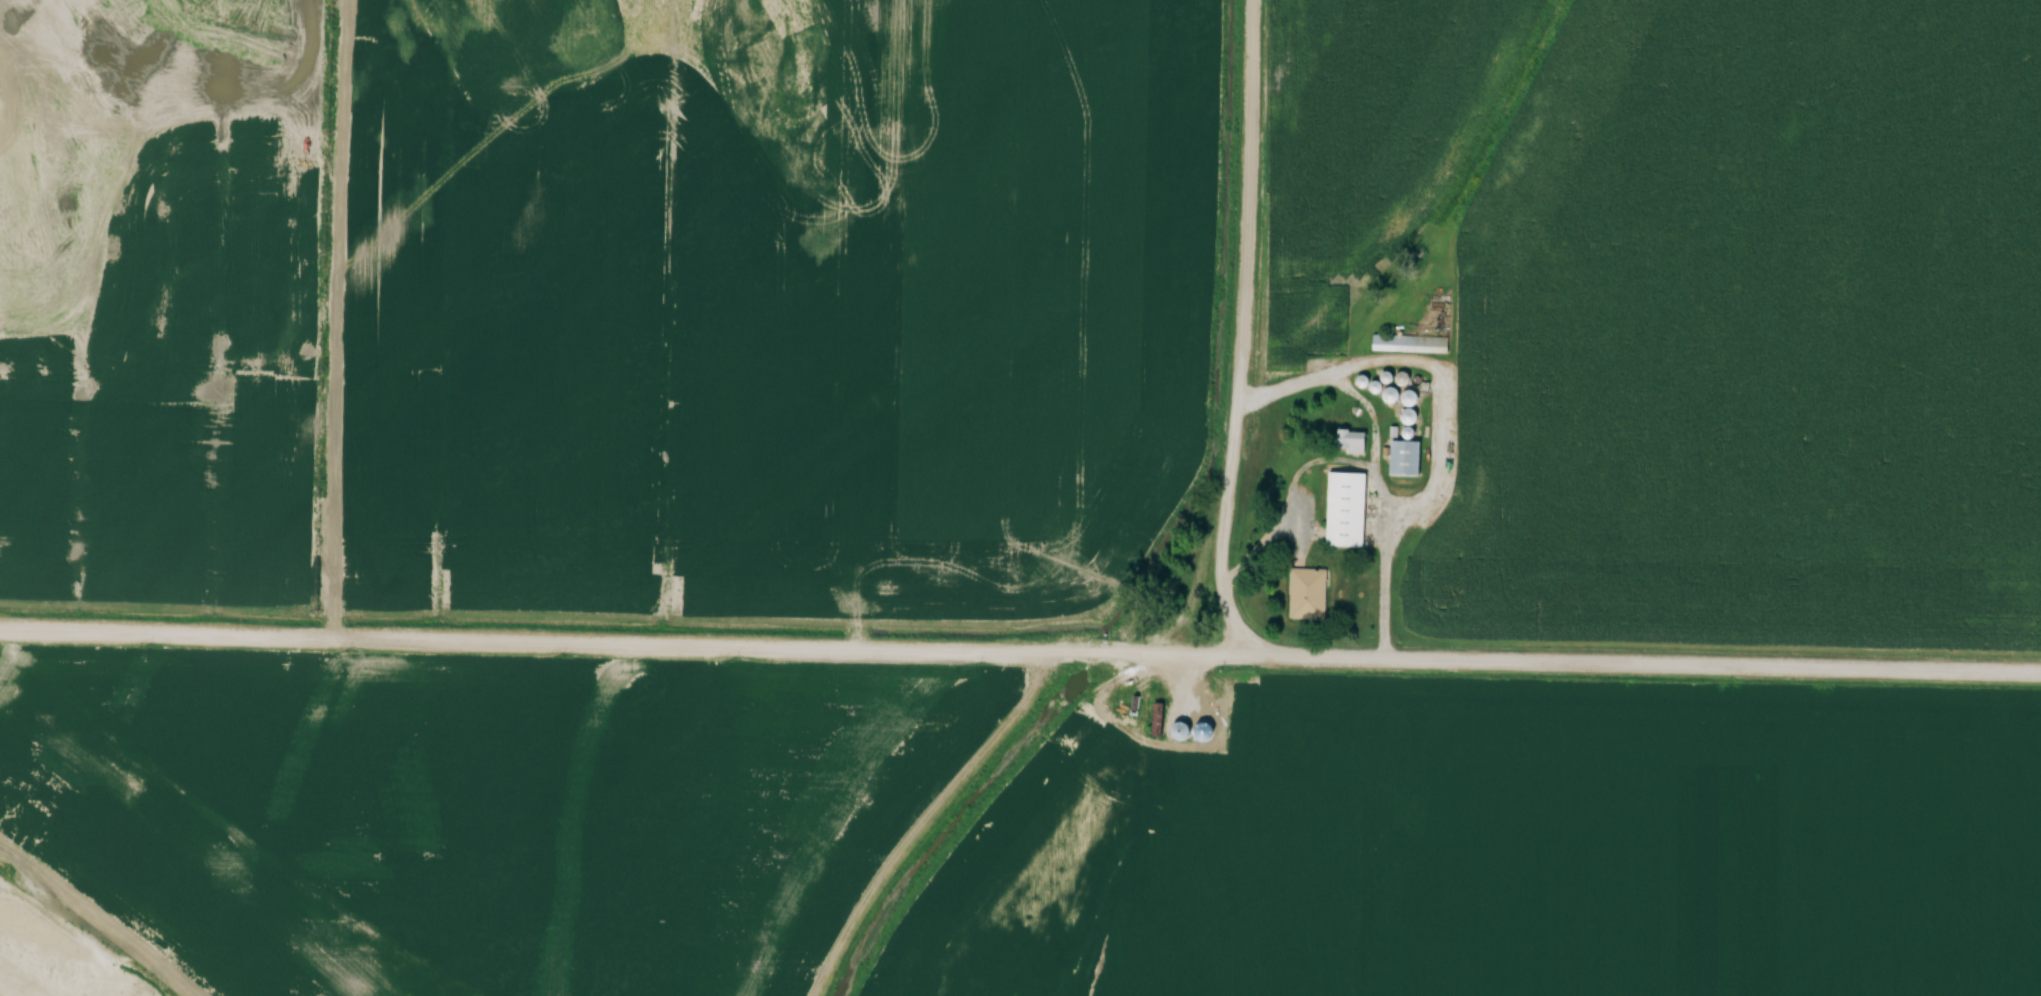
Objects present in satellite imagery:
road: (1250, 323)
building: (1410, 341)
building: (1347, 507)
building: (1308, 591)
road: (622, 635)
road: (1642, 657)
building: (1206, 704)
building: (1159, 719)
building: (1206, 725)

